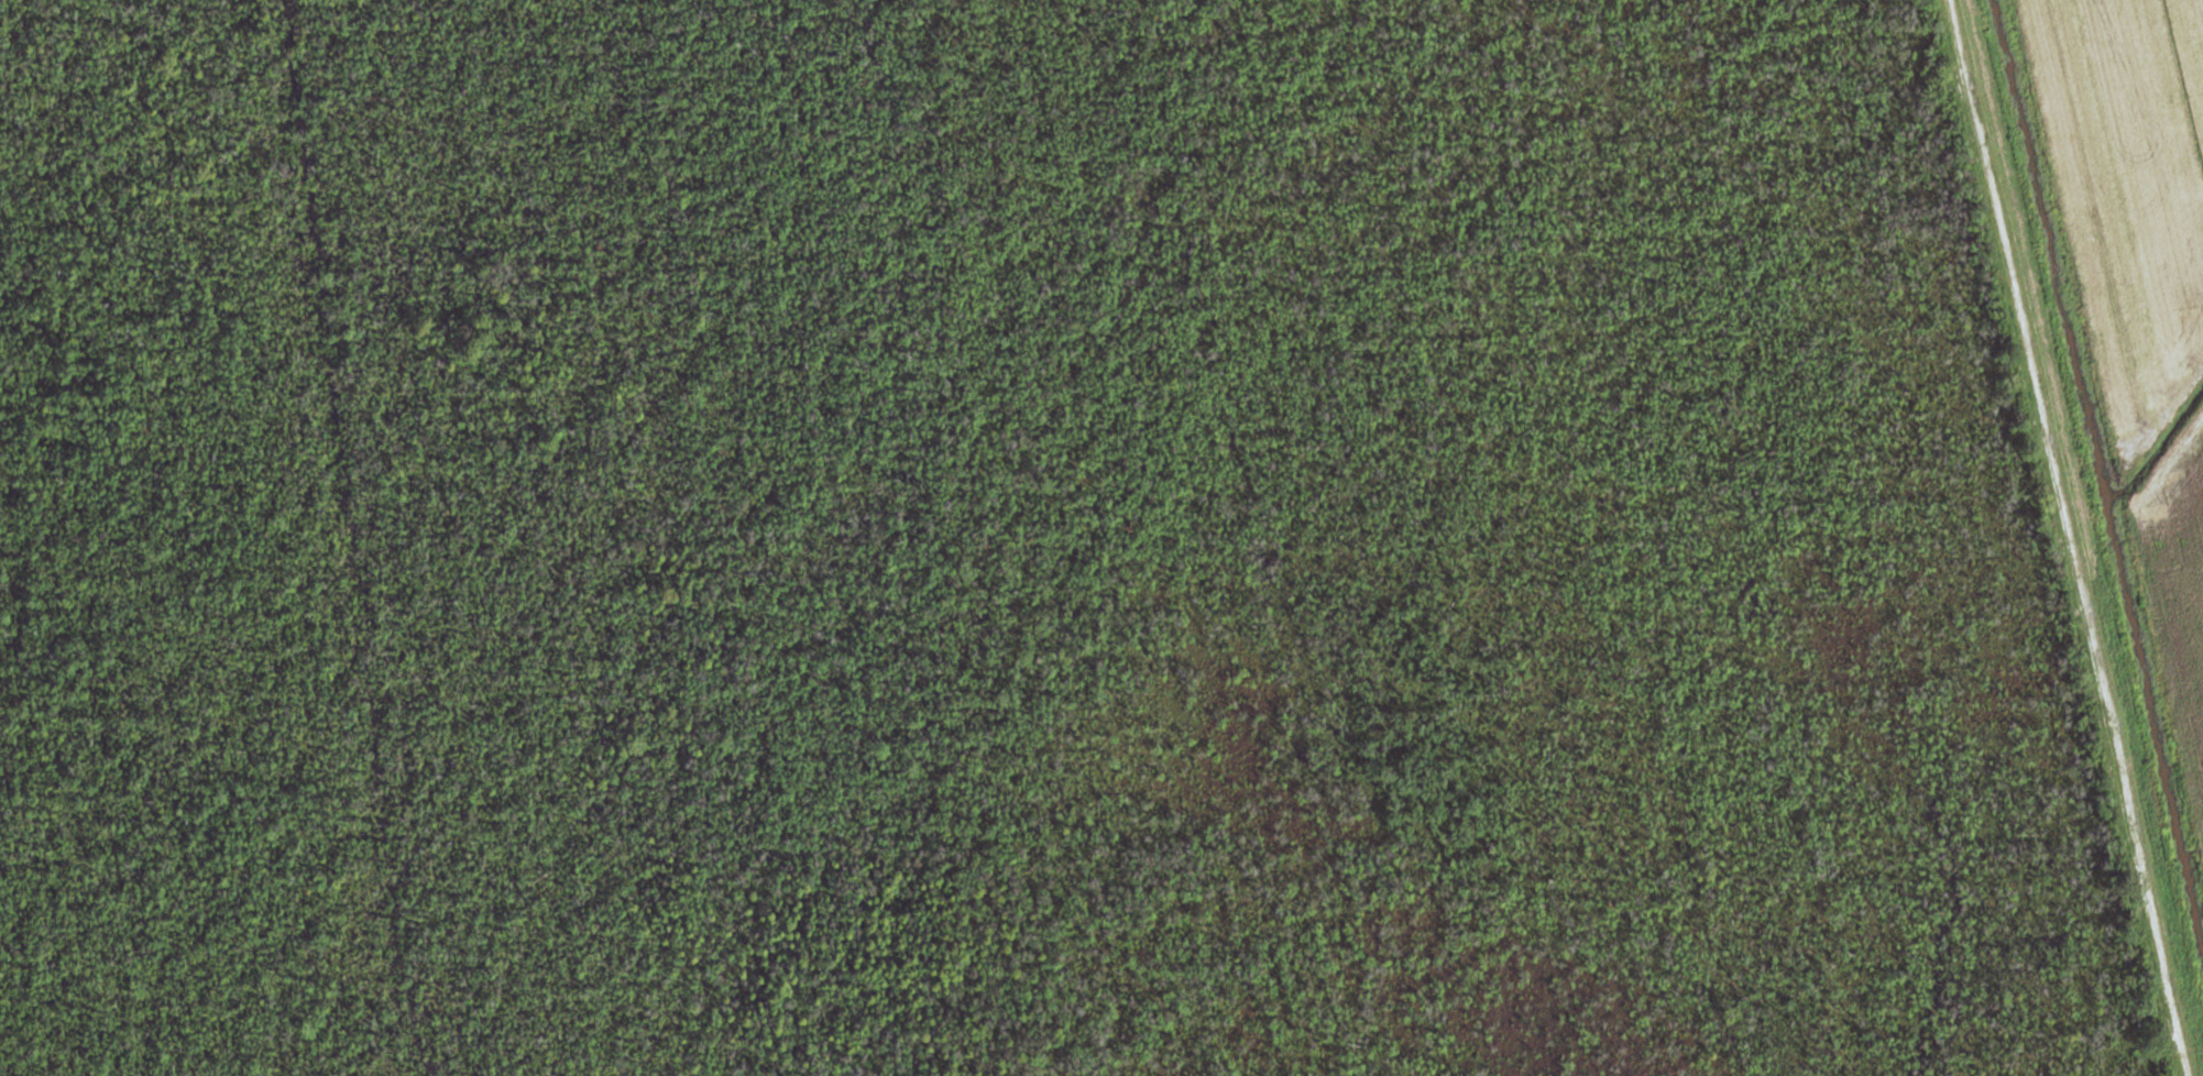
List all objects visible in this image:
road: (2071, 537)

